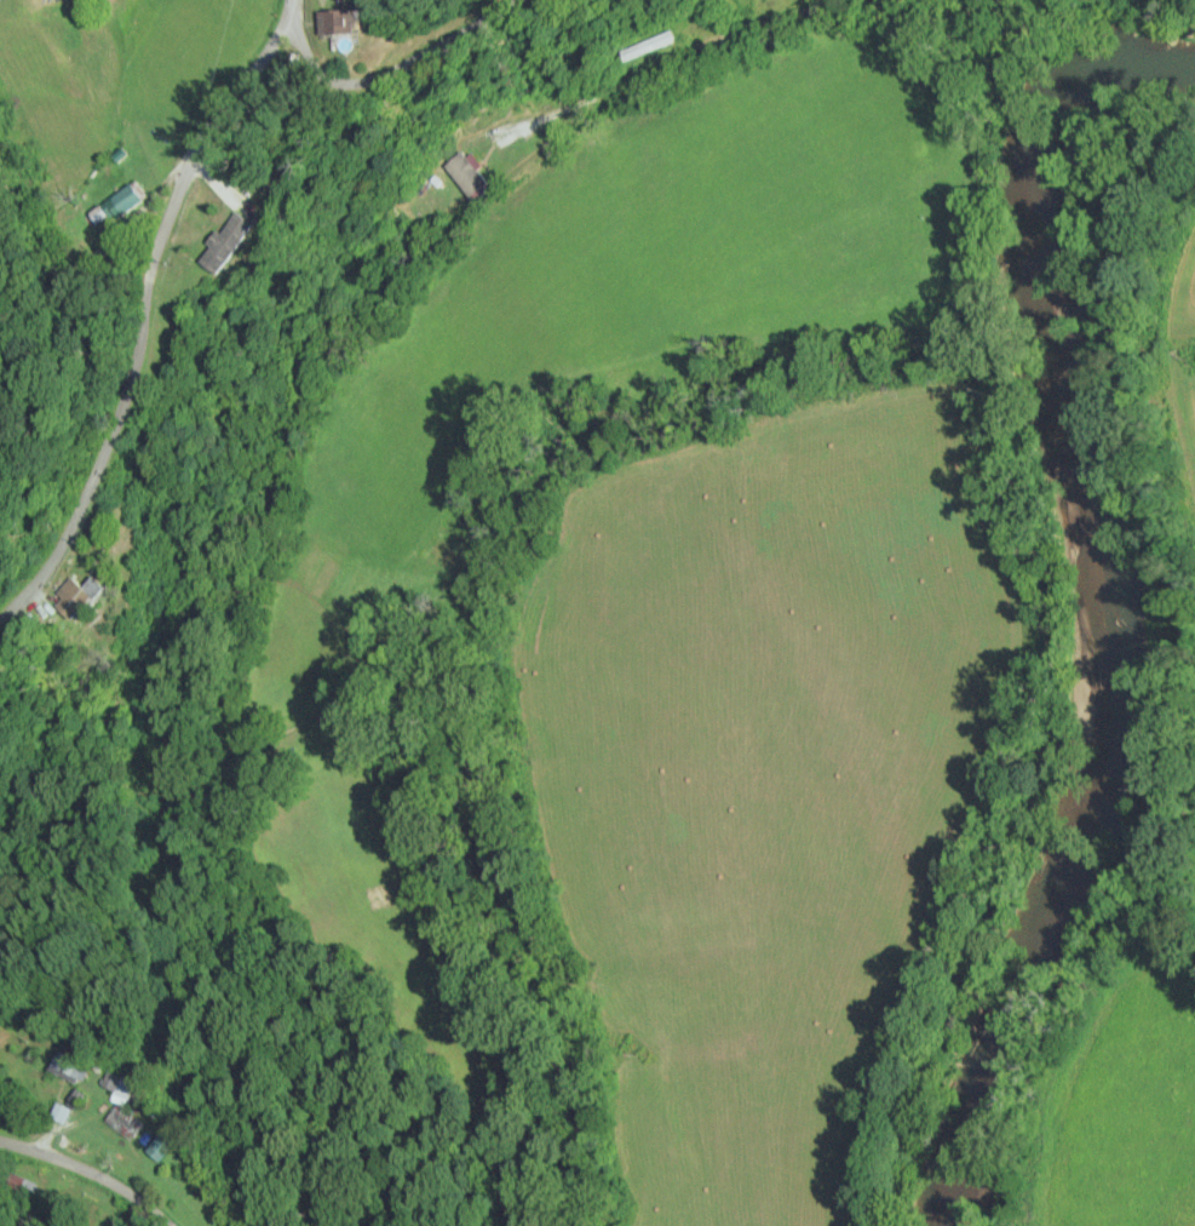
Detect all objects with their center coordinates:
building: (349, 21)
building: (656, 45)
road: (397, 68)
building: (476, 174)
building: (133, 197)
building: (239, 241)
road: (145, 310)
building: (90, 597)
river: (1099, 605)
building: (80, 1065)
building: (126, 1084)
building: (67, 1112)
building: (131, 1122)
road: (91, 1170)

